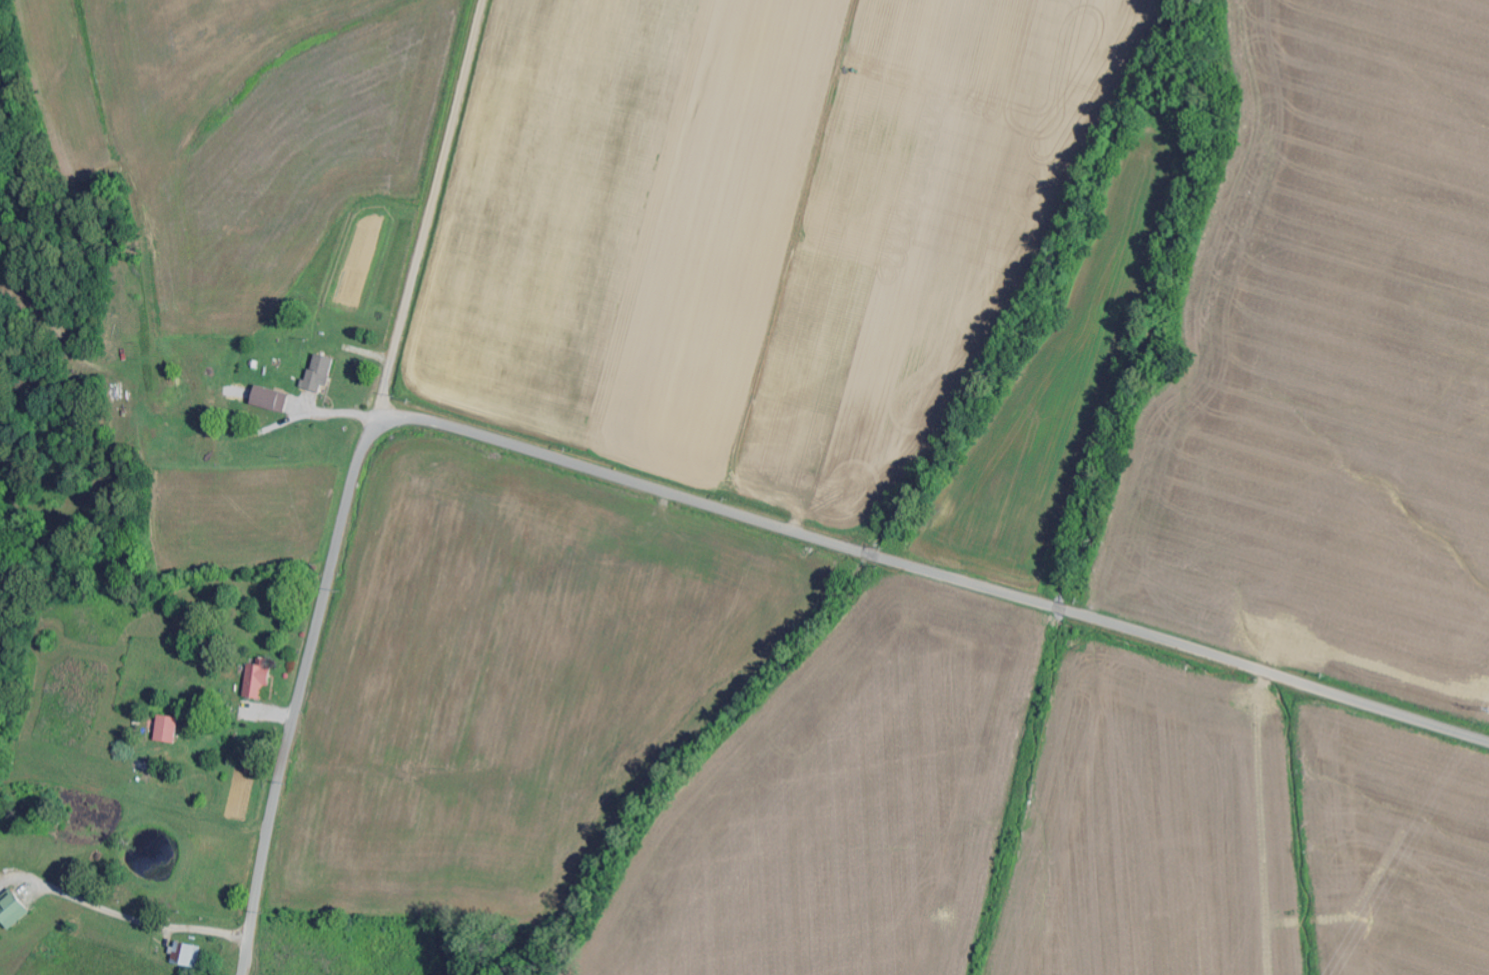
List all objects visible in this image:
road: (429, 211)
building: (321, 372)
building: (272, 399)
road: (663, 490)
building: (260, 679)
building: (169, 729)
building: (14, 910)
building: (188, 955)

